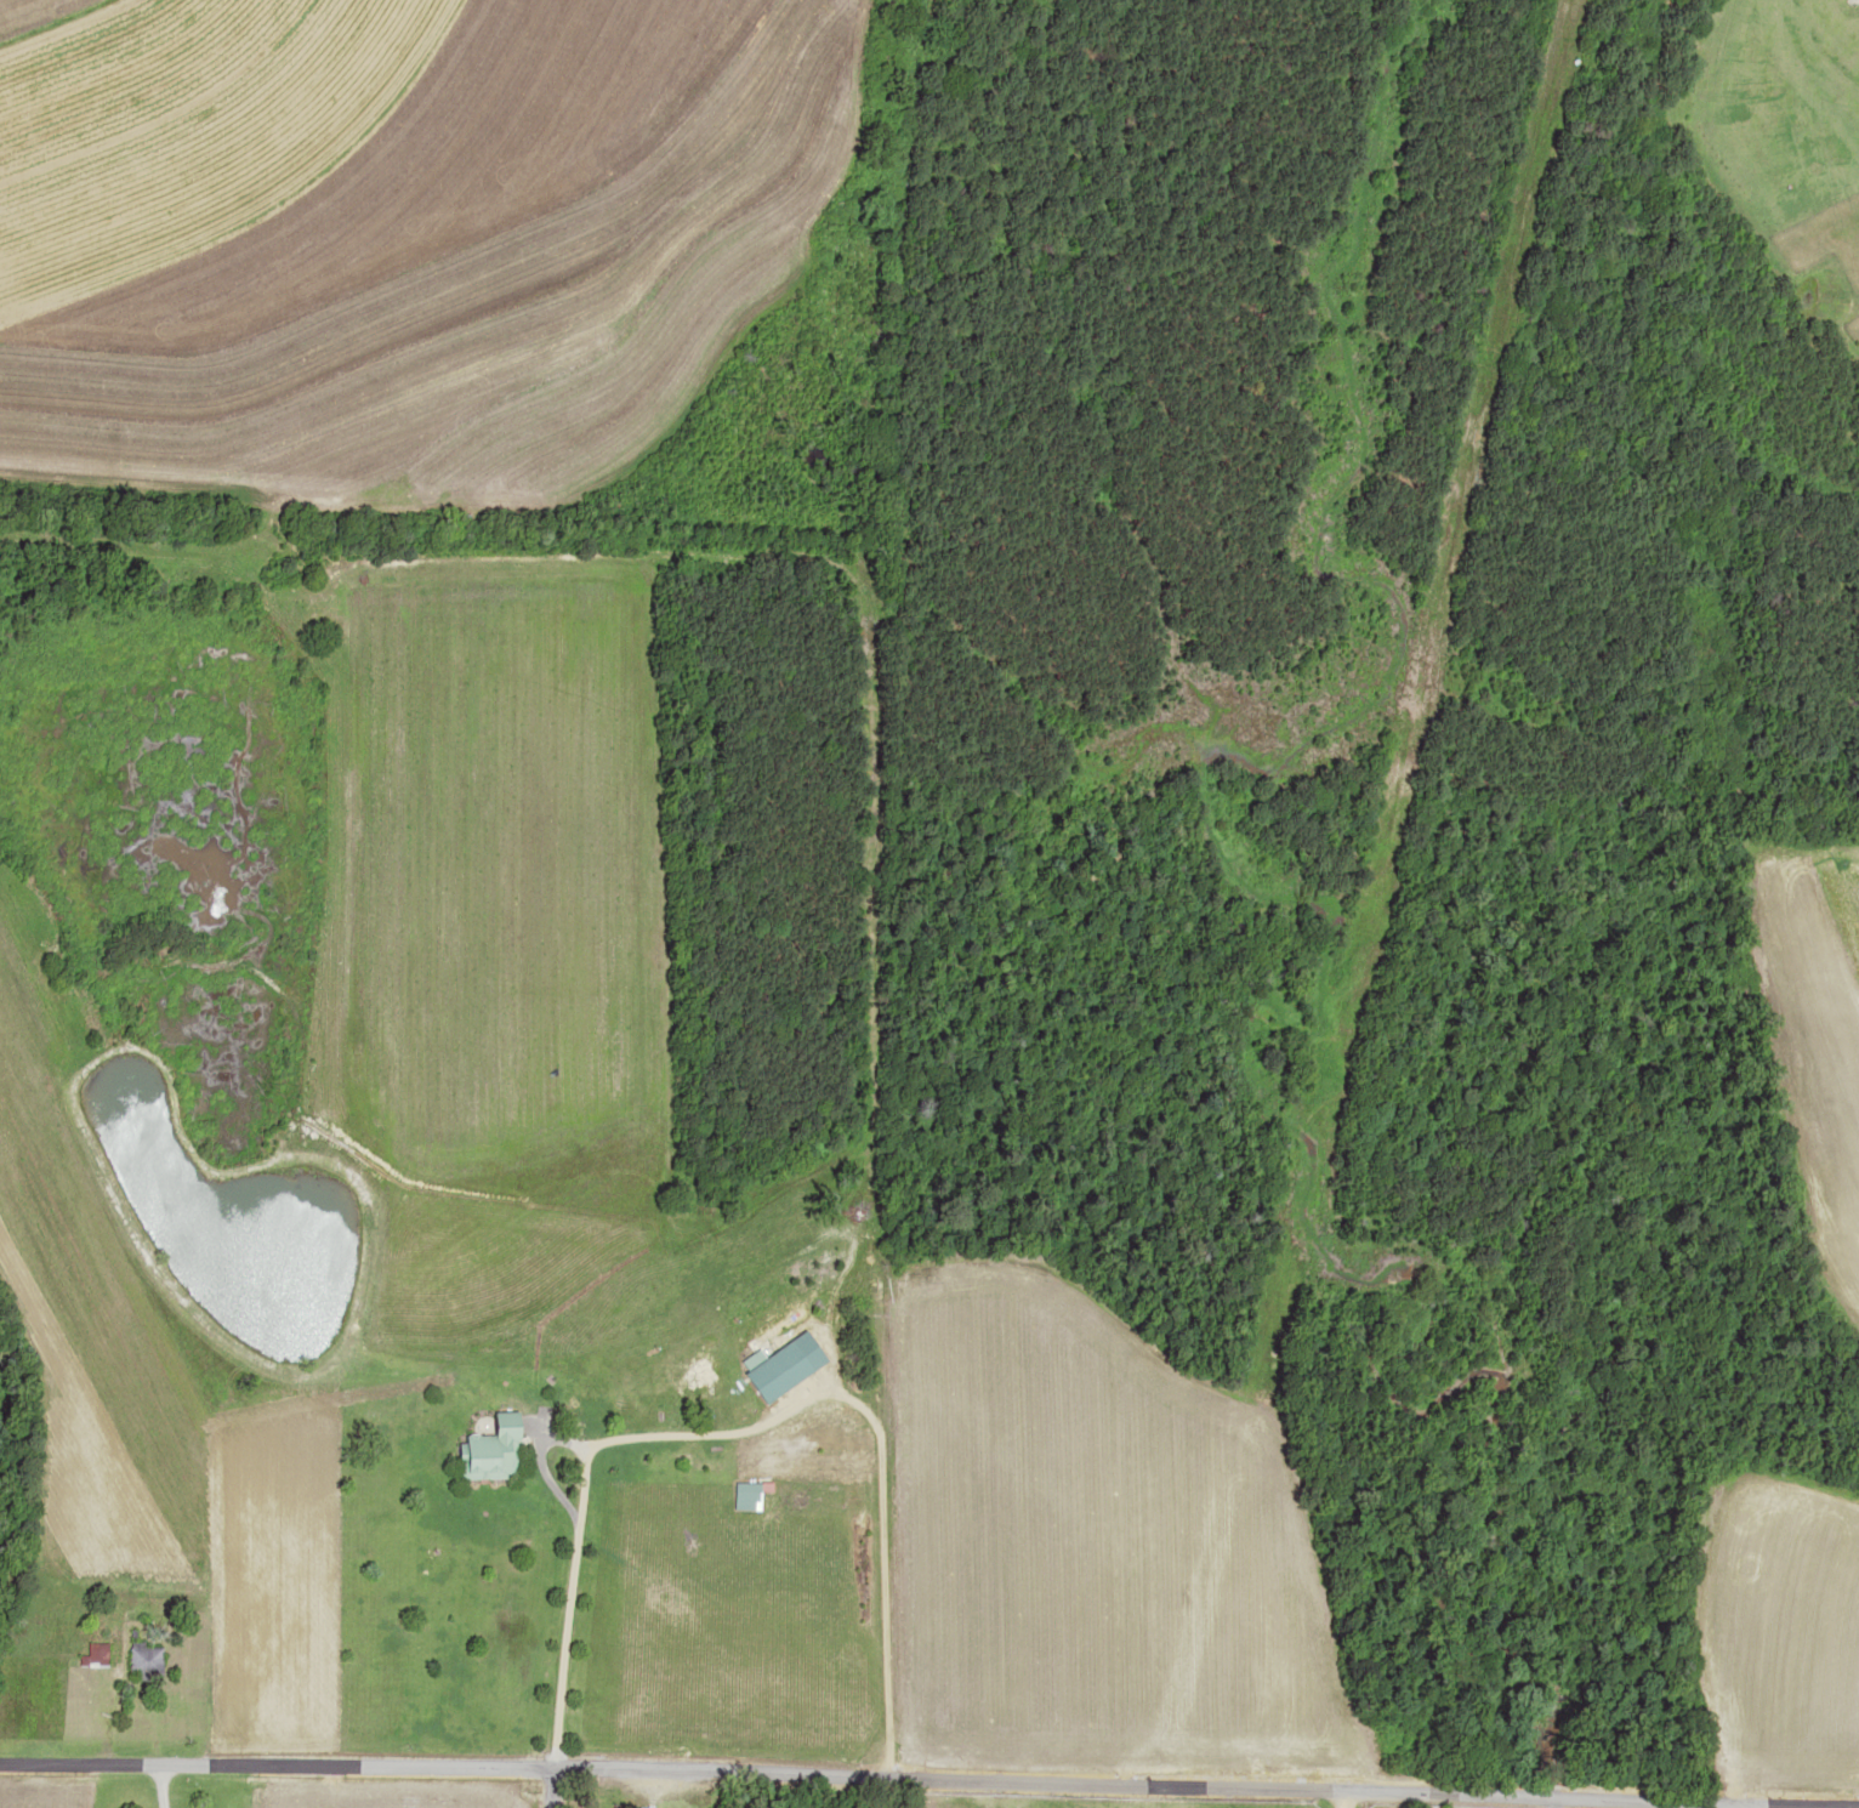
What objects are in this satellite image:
building: (775, 1365)
building: (483, 1450)
building: (739, 1496)
building: (93, 1654)
building: (141, 1661)
road: (186, 1801)
building: (624, 1806)

